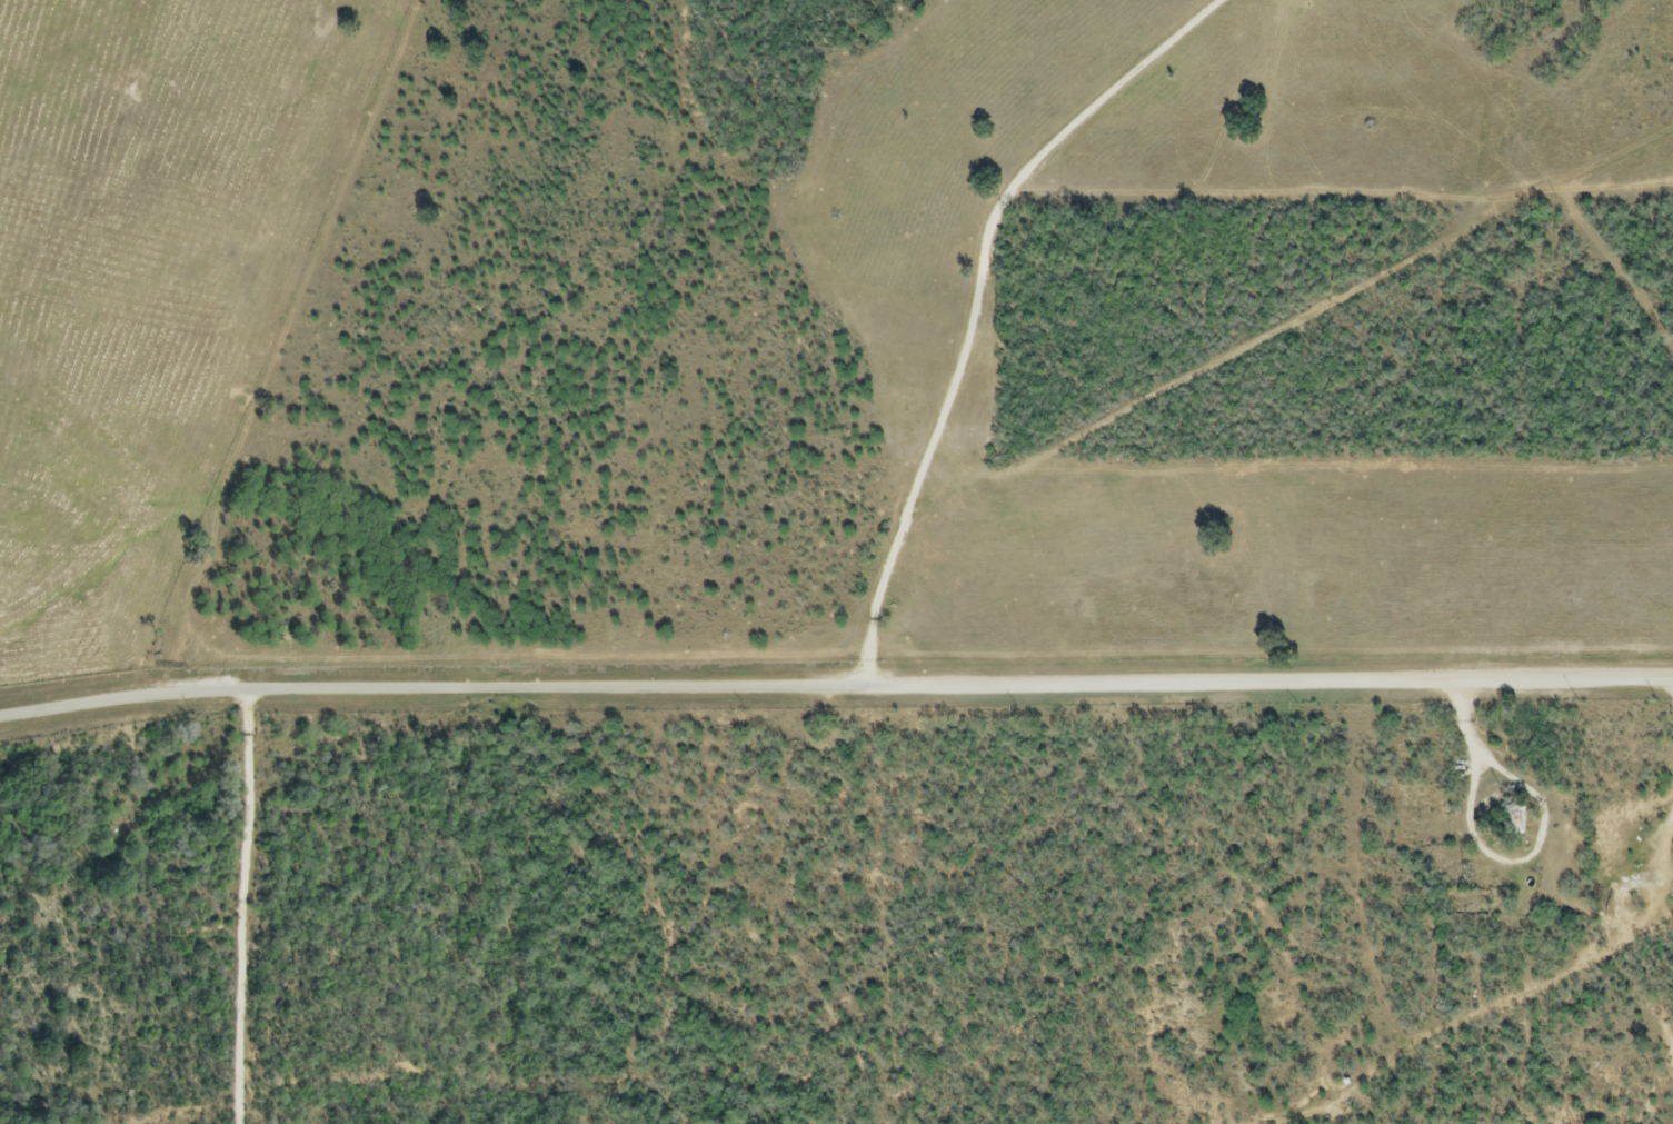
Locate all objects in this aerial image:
road: (835, 683)
building: (1513, 825)
road: (247, 903)

